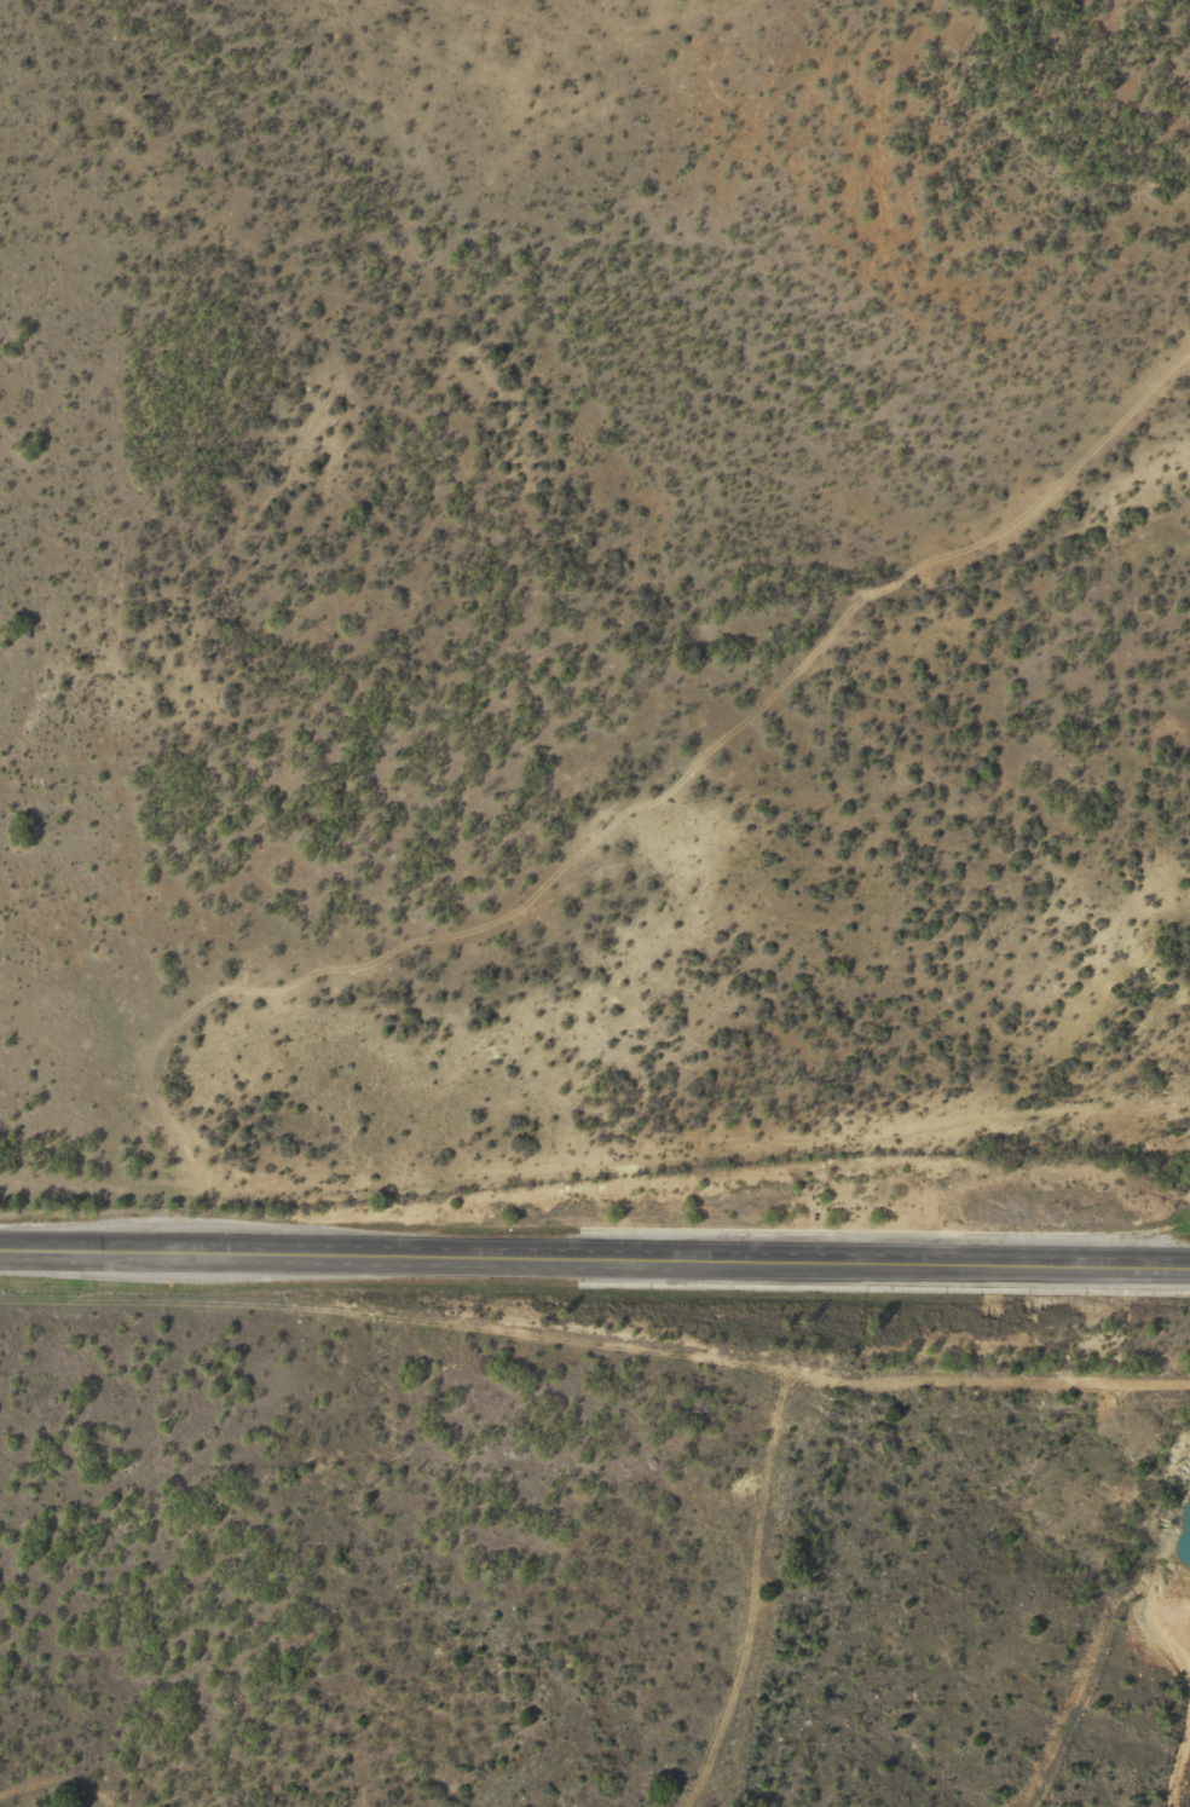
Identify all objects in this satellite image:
road: (622, 797)
road: (595, 1262)

